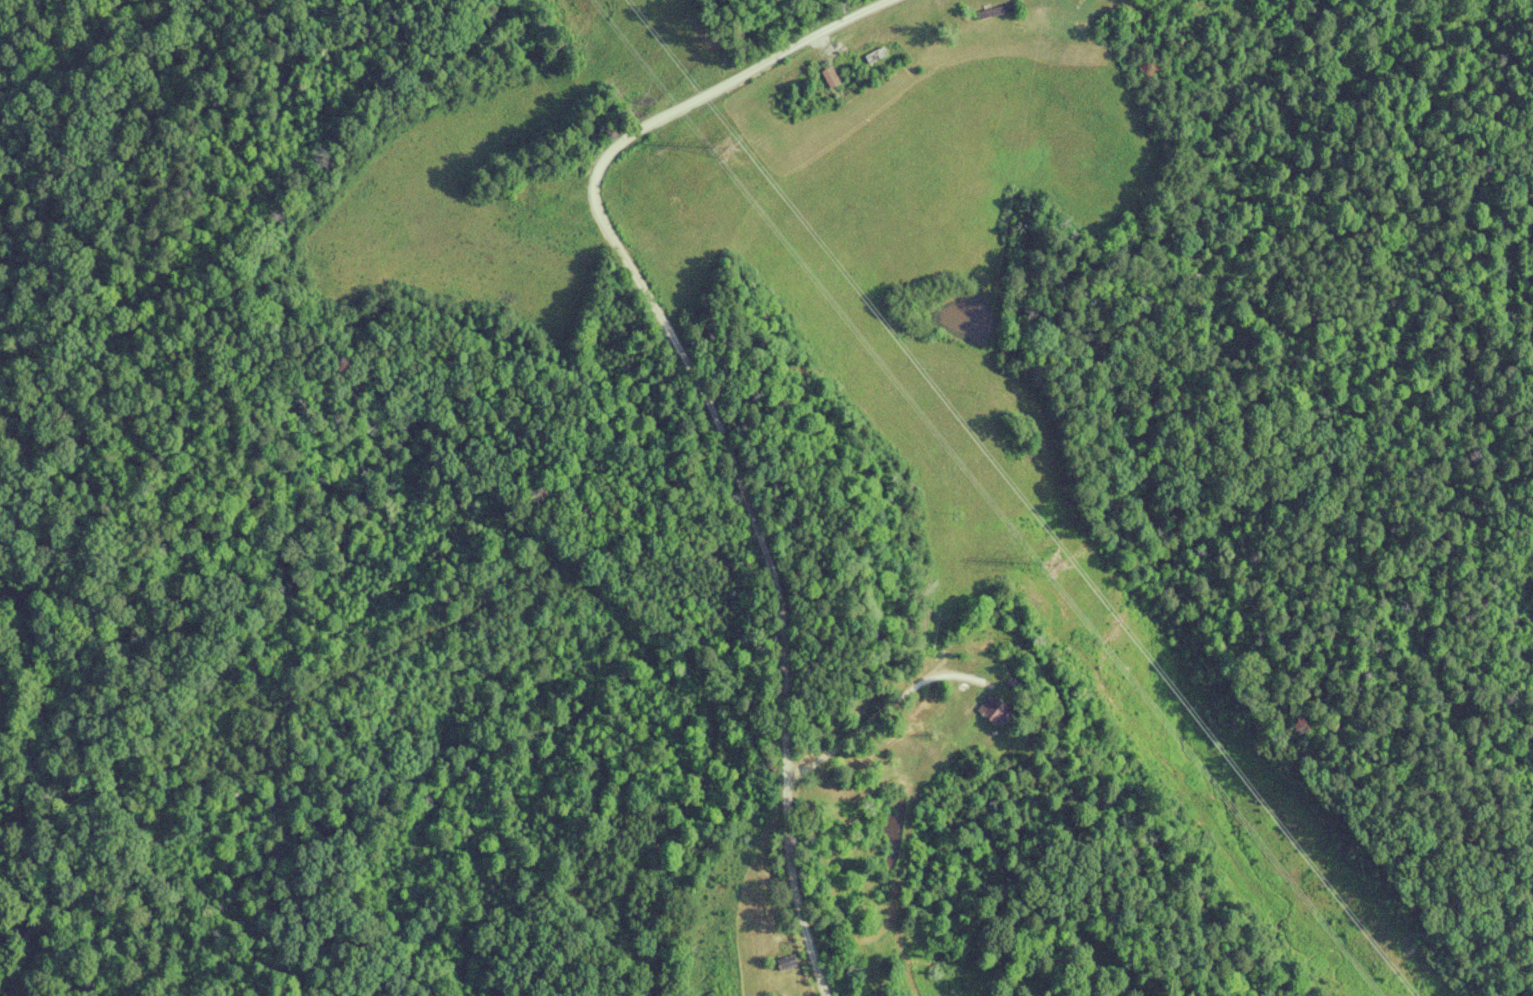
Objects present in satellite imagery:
building: (875, 51)
building: (832, 79)
road: (690, 398)
building: (997, 712)

